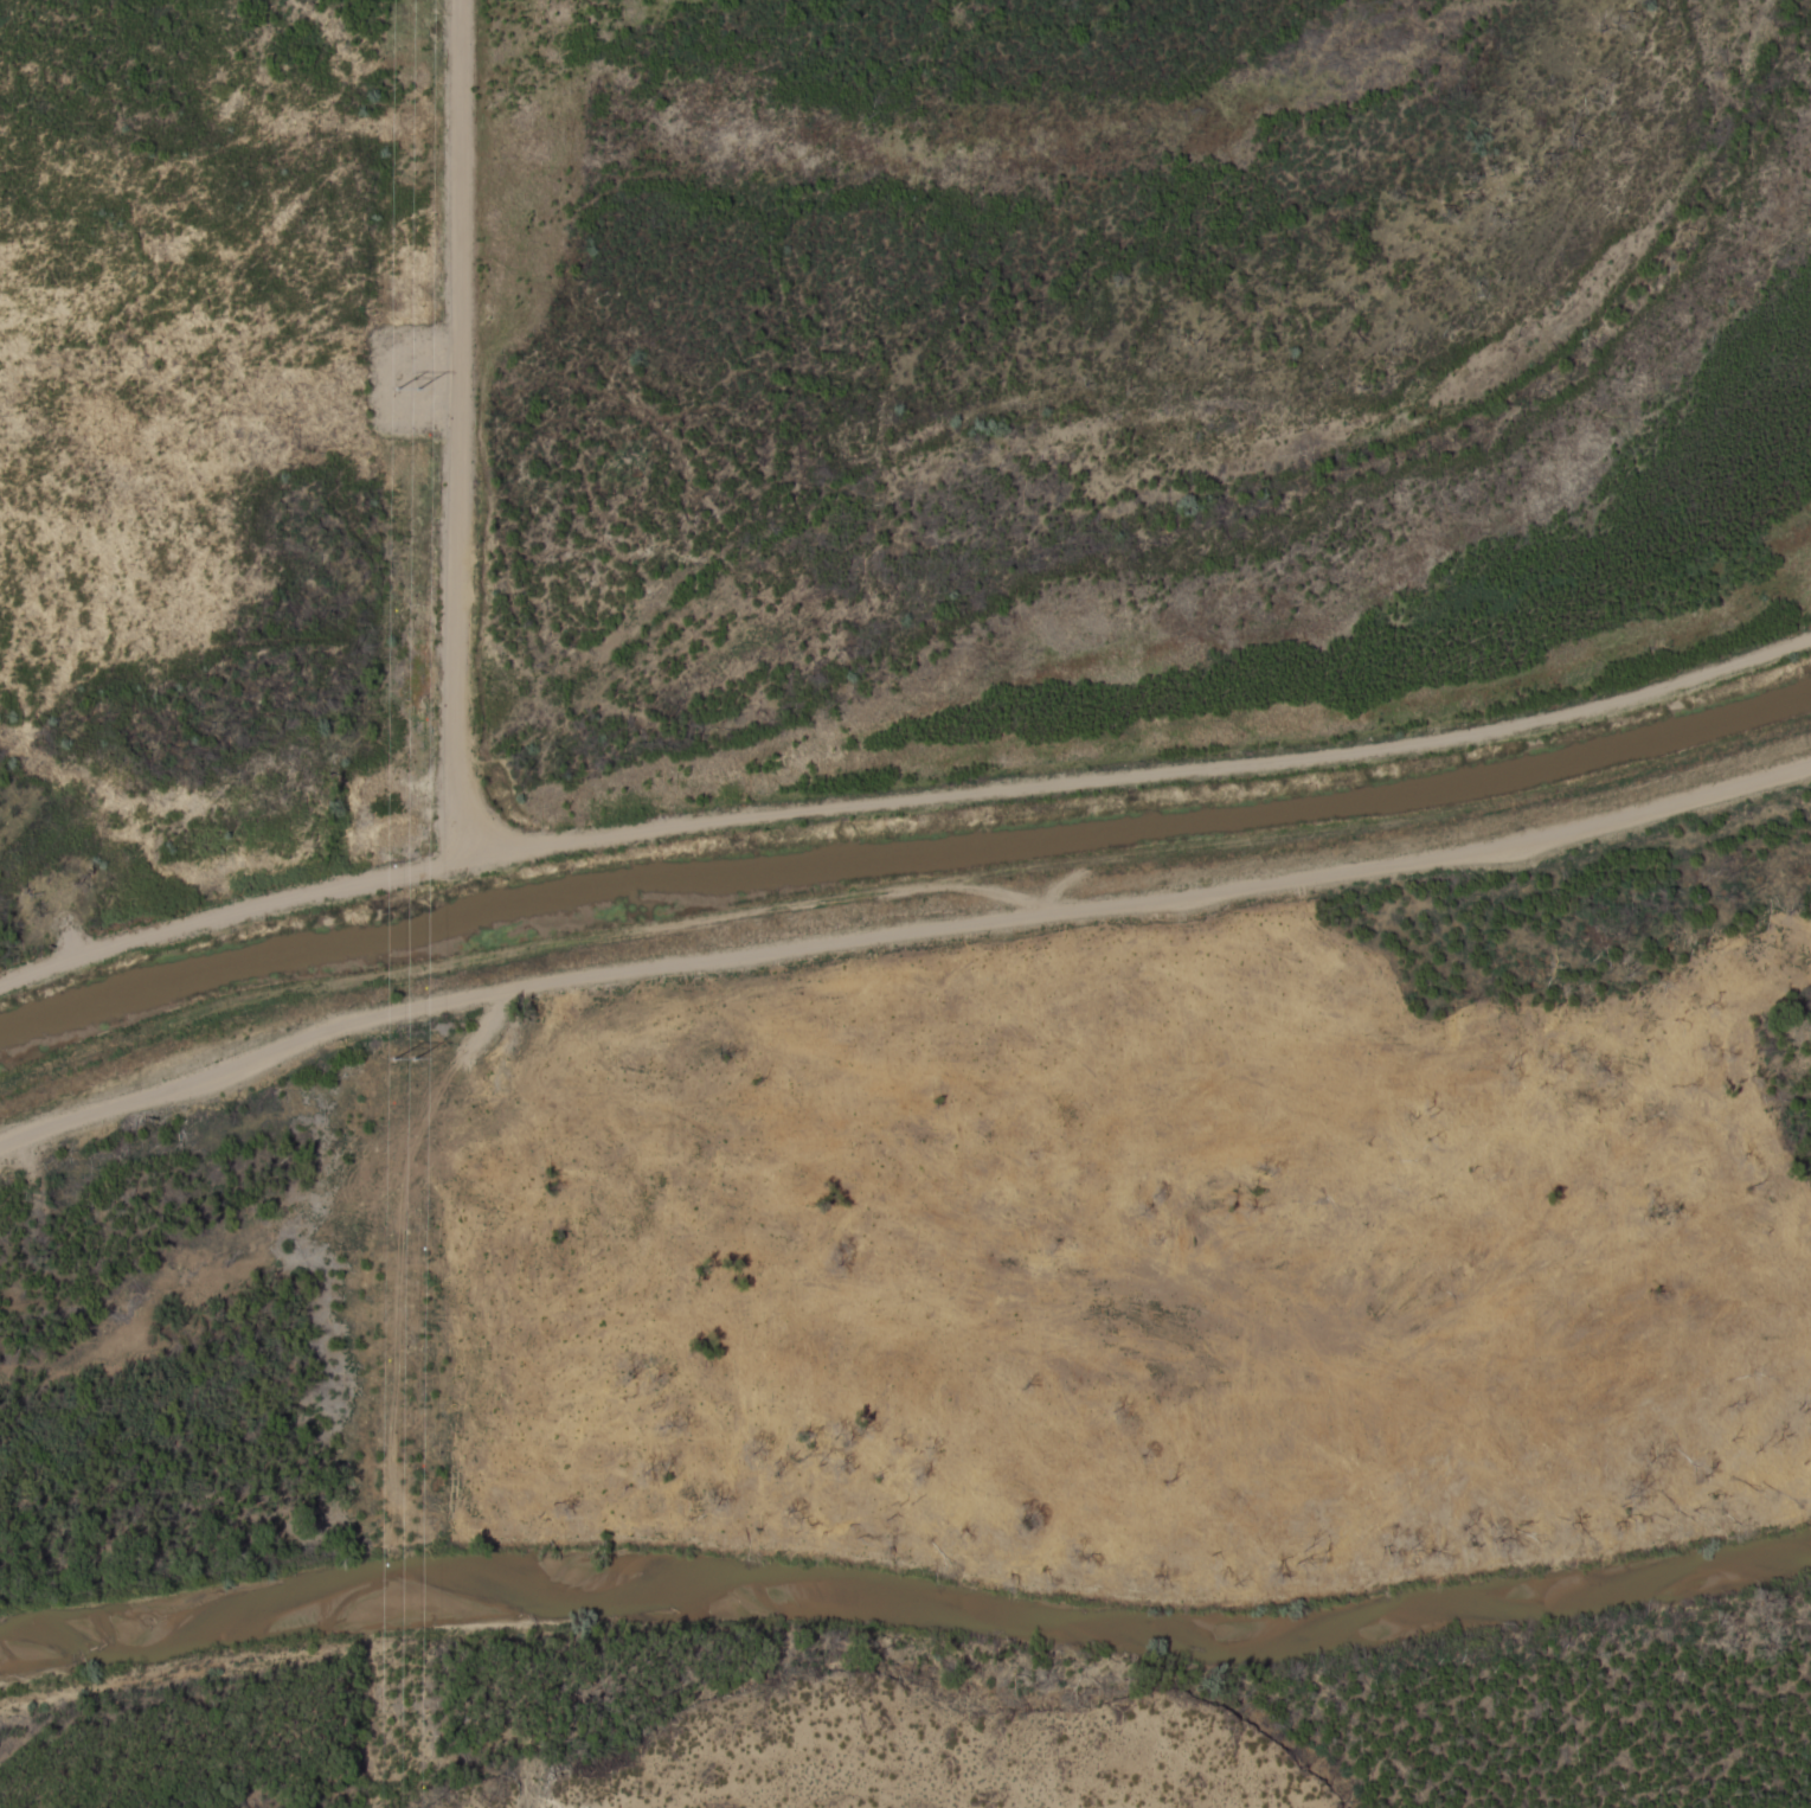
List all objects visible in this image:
power tower: (399, 380)
road: (903, 795)
road: (899, 931)
power tower: (396, 1057)
river: (907, 1597)

